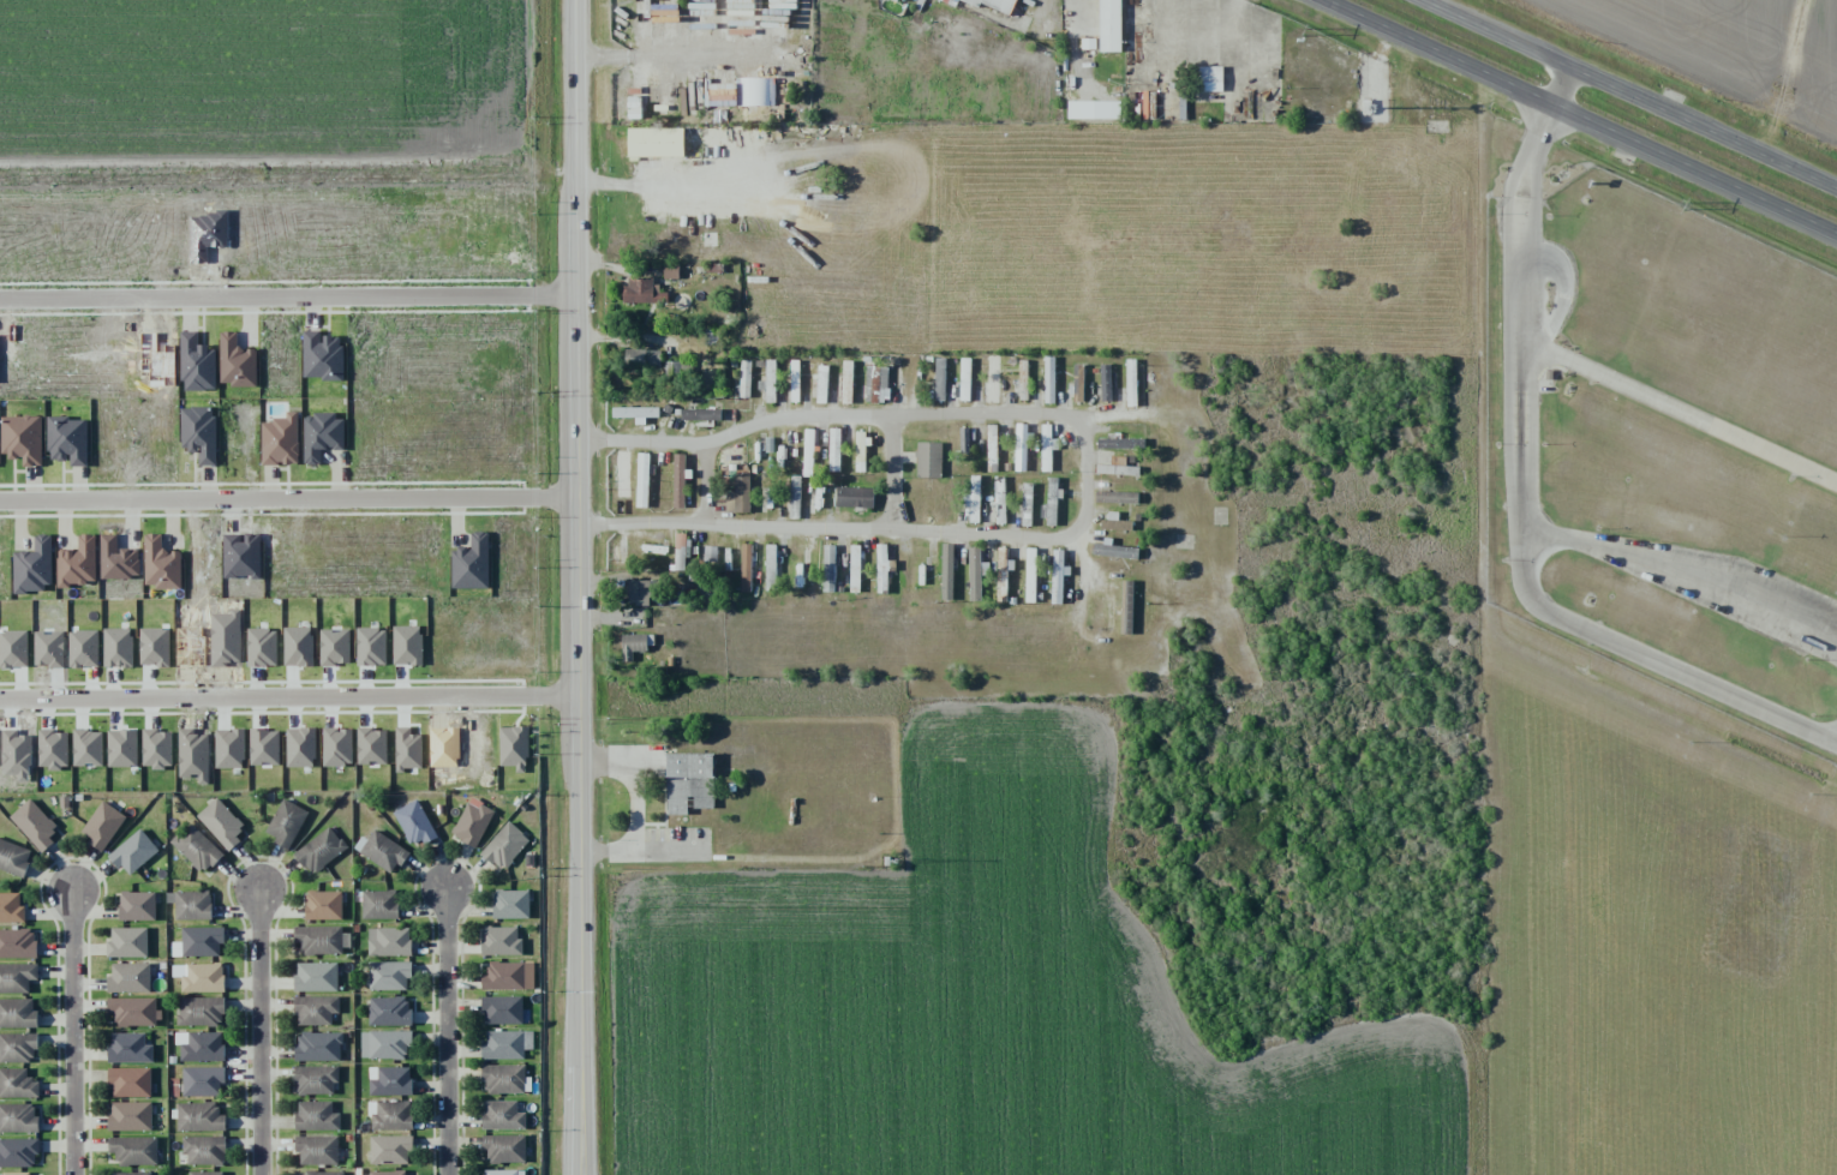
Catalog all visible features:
building: (988, 4)
building: (1109, 25)
power tower: (1305, 29)
crop: (1694, 37)
crop: (1814, 71)
road: (1561, 84)
building: (755, 91)
road: (1632, 92)
building: (1093, 109)
road: (1584, 118)
building: (654, 143)
power tower: (1681, 203)
building: (642, 290)
road: (288, 298)
building: (642, 358)
building: (675, 370)
building: (1048, 378)
building: (939, 379)
building: (964, 379)
building: (1023, 379)
building: (743, 380)
building: (770, 380)
building: (794, 380)
building: (993, 380)
building: (846, 382)
building: (876, 383)
building: (1077, 383)
building: (821, 384)
building: (1102, 384)
road: (1677, 408)
building: (635, 412)
building: (700, 414)
building: (199, 432)
building: (321, 436)
building: (23, 439)
building: (963, 439)
building: (67, 440)
building: (280, 440)
building: (1019, 443)
building: (1119, 444)
building: (1047, 446)
building: (991, 448)
building: (834, 449)
building: (860, 451)
building: (808, 452)
building: (928, 460)
building: (1117, 469)
road: (893, 473)
road: (1085, 474)
building: (614, 476)
building: (642, 480)
building: (678, 480)
road: (704, 482)
building: (738, 496)
building: (794, 497)
building: (854, 497)
building: (1115, 497)
building: (973, 499)
building: (999, 499)
road: (288, 500)
building: (1051, 502)
building: (1027, 504)
road: (1522, 516)
building: (1115, 524)
building: (1114, 551)
building: (680, 552)
building: (710, 553)
building: (78, 563)
building: (471, 563)
building: (161, 564)
building: (34, 566)
building: (770, 566)
building: (881, 566)
building: (746, 568)
building: (946, 571)
road: (1682, 571)
building: (974, 574)
building: (1001, 575)
building: (1030, 575)
building: (1057, 576)
road: (579, 587)
building: (639, 592)
building: (634, 646)
road: (291, 700)
building: (689, 781)
building: (472, 822)
building: (221, 823)
building: (286, 823)
building: (414, 823)
building: (34, 825)
building: (102, 825)
building: (504, 845)
building: (196, 847)
building: (321, 850)
building: (381, 851)
building: (133, 852)
building: (13, 858)
building: (379, 904)
building: (510, 904)
building: (191, 905)
building: (323, 905)
building: (137, 906)
building: (11, 907)
building: (322, 939)
building: (202, 941)
building: (389, 941)
building: (501, 941)
building: (127, 942)
building: (17, 943)
building: (389, 975)
building: (509, 976)
building: (17, 977)
building: (316, 977)
building: (128, 978)
building: (203, 978)
building: (316, 1009)
building: (133, 1011)
building: (199, 1011)
building: (389, 1011)
building: (502, 1011)
building: (18, 1013)
road: (259, 1029)
road: (445, 1030)
road: (72, 1031)
building: (384, 1044)
building: (503, 1045)
building: (17, 1047)
building: (203, 1047)
building: (318, 1047)
building: (130, 1048)
building: (504, 1079)
building: (316, 1080)
building: (130, 1081)
building: (202, 1081)
building: (389, 1081)
building: (17, 1084)
building: (391, 1115)
building: (502, 1115)
building: (130, 1116)
building: (199, 1116)
building: (316, 1116)
building: (18, 1117)
building: (504, 1147)
building: (317, 1149)
building: (133, 1150)
building: (204, 1150)
building: (390, 1150)
building: (18, 1152)
building: (504, 1171)
building: (16, 1173)
building: (132, 1173)
building: (205, 1173)
building: (323, 1173)
building: (388, 1173)

